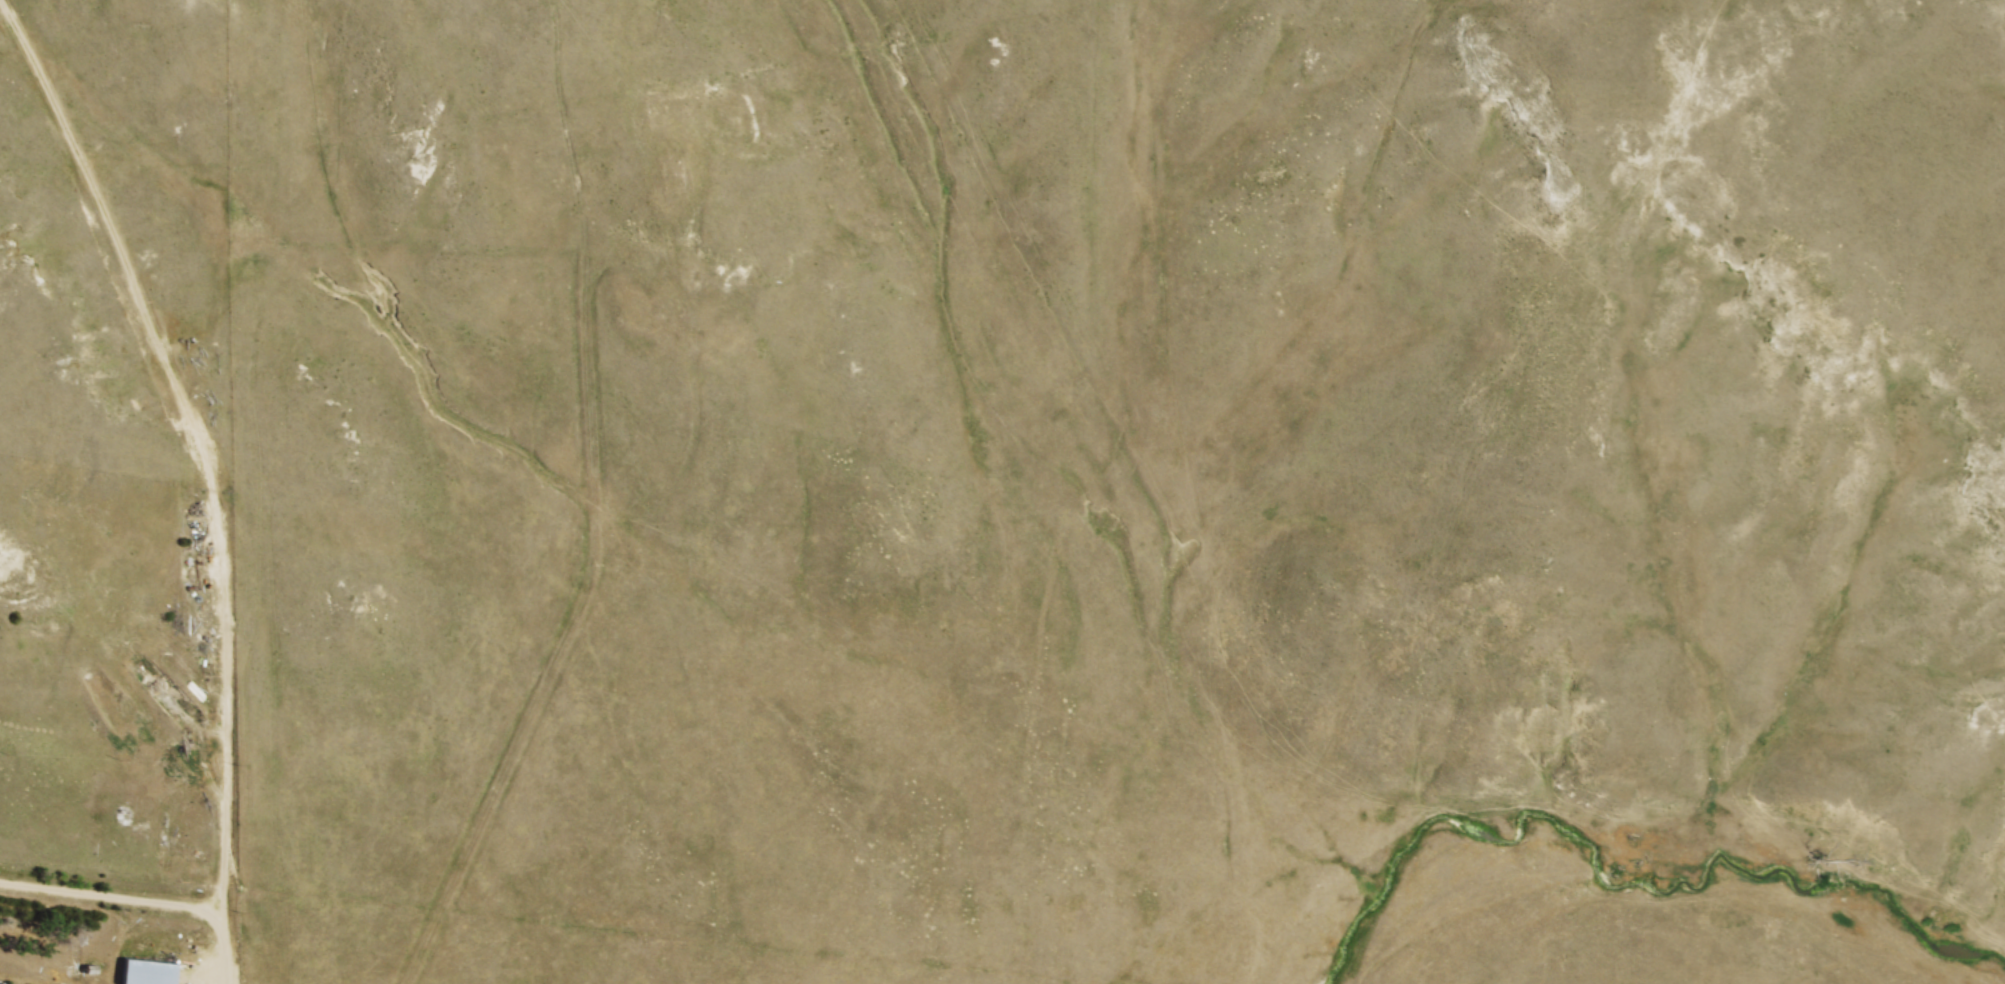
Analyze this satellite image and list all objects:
road: (149, 904)
building: (147, 972)
building: (1, 983)

